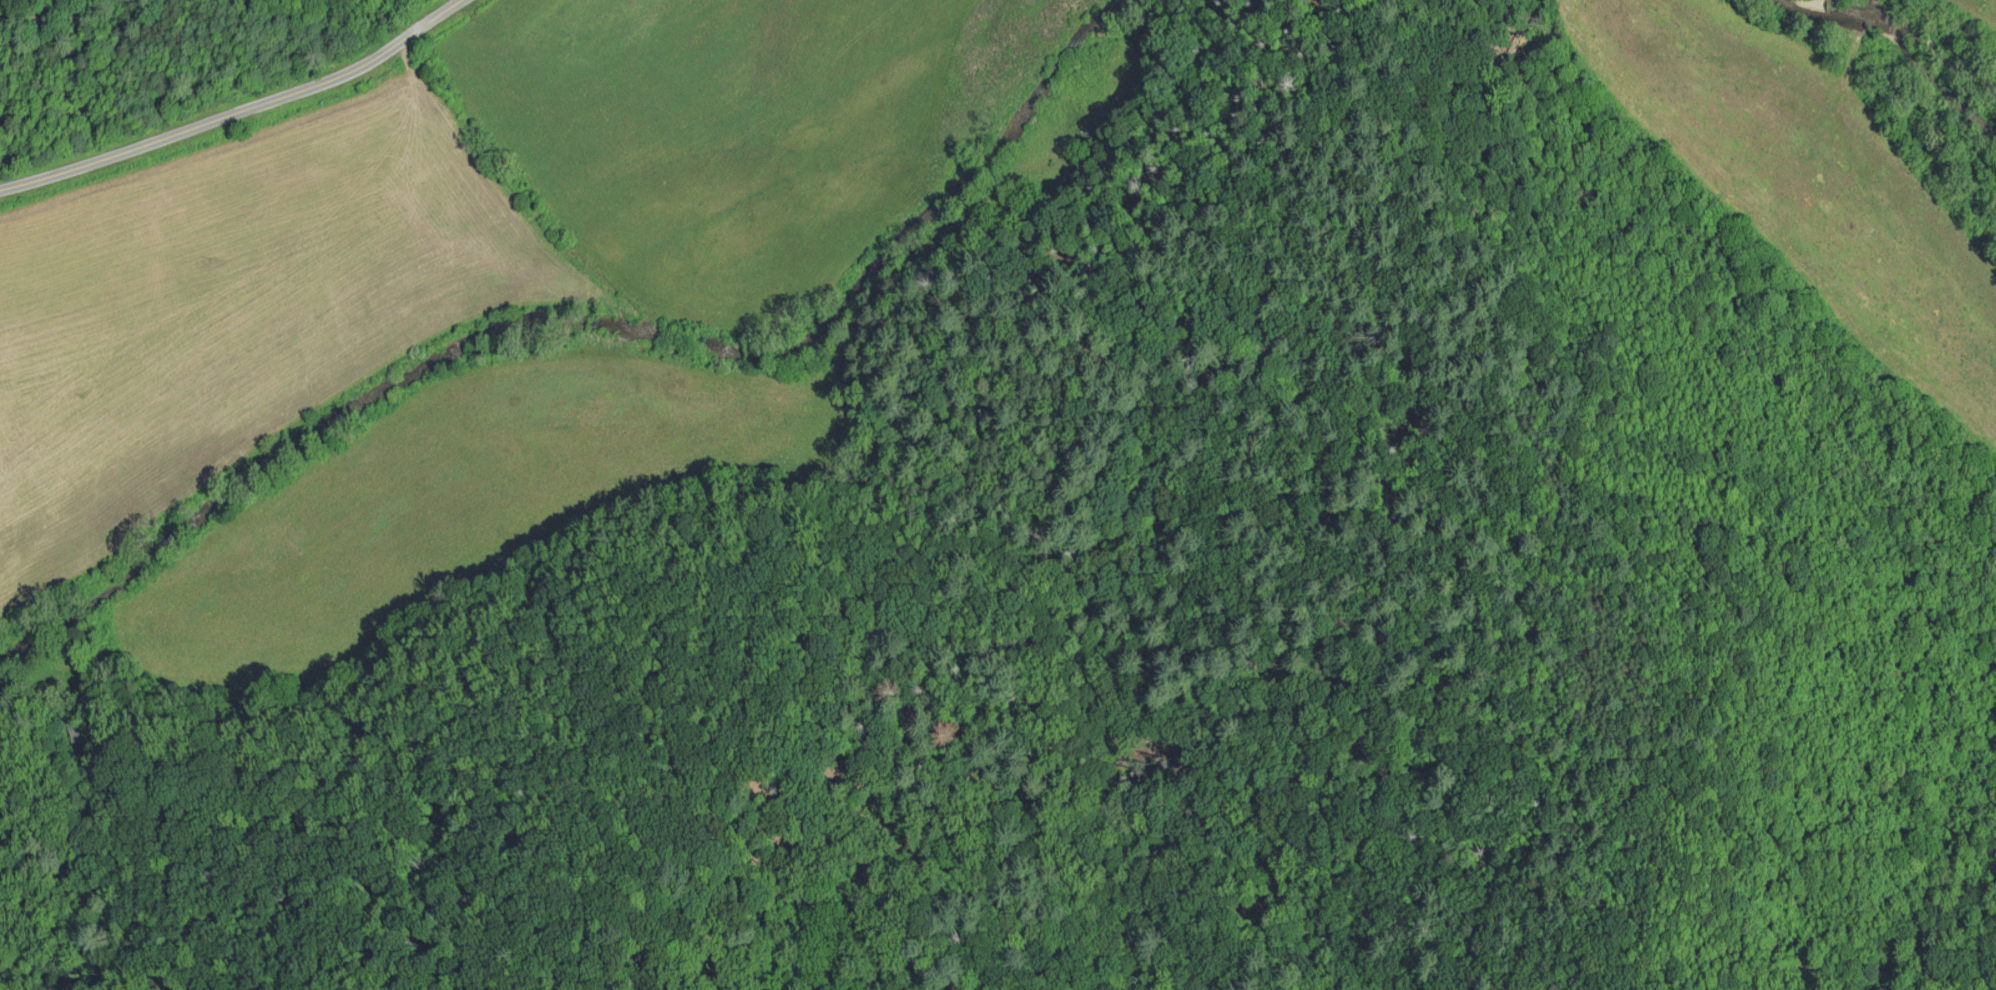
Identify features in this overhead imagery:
road: (236, 110)

